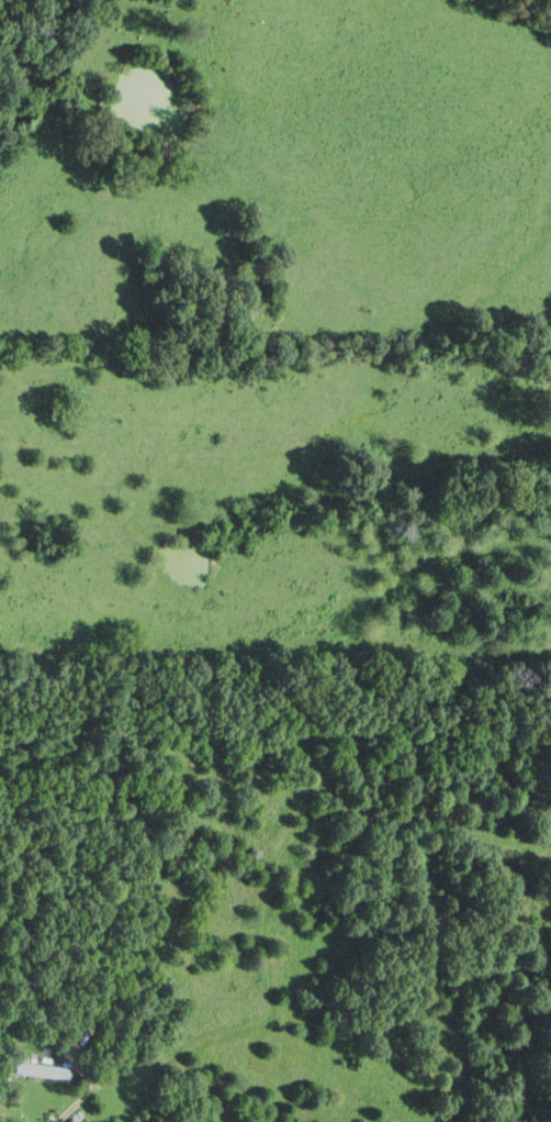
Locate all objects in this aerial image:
building: (34, 1074)

